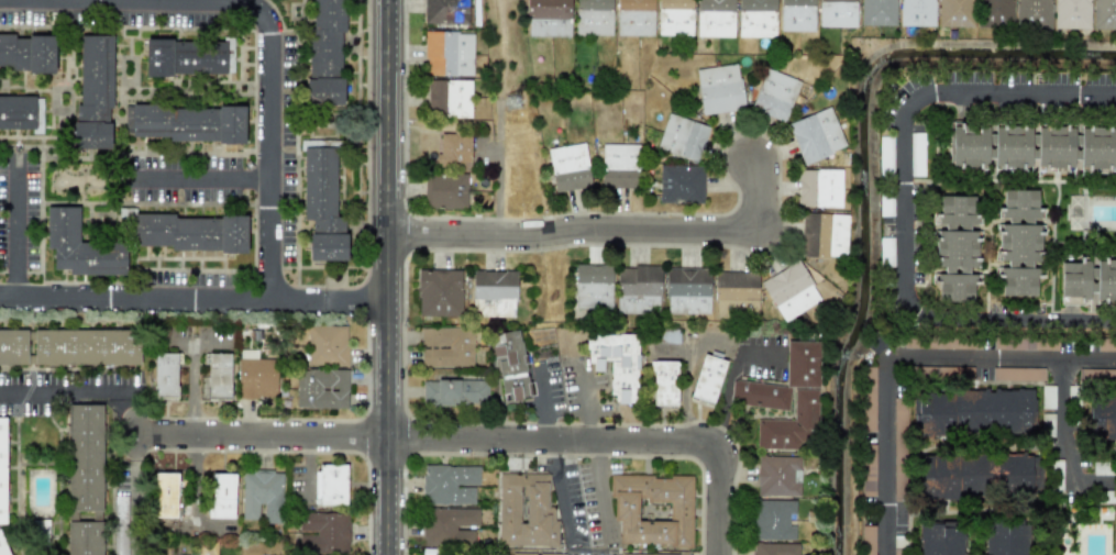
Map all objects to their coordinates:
building: (445, 12)
building: (877, 12)
building: (917, 12)
building: (995, 12)
building: (837, 13)
building: (954, 13)
building: (1032, 14)
building: (1071, 14)
building: (1104, 14)
building: (797, 15)
building: (593, 16)
building: (548, 18)
building: (634, 18)
building: (675, 18)
building: (715, 18)
building: (756, 18)
building: (27, 53)
building: (325, 54)
building: (449, 54)
building: (188, 57)
building: (719, 88)
building: (93, 92)
building: (774, 95)
building: (449, 97)
power tower: (506, 102)
road: (267, 107)
building: (21, 113)
building: (189, 123)
building: (816, 135)
building: (682, 136)
building: (1032, 147)
building: (454, 151)
building: (916, 154)
building: (885, 156)
building: (619, 166)
building: (568, 167)
road: (200, 179)
building: (679, 182)
building: (819, 188)
building: (445, 191)
building: (322, 201)
road: (902, 206)
building: (885, 209)
road: (16, 225)
building: (190, 232)
road: (607, 232)
building: (824, 234)
building: (1018, 242)
building: (79, 246)
building: (955, 247)
road: (386, 277)
building: (1087, 281)
building: (593, 286)
building: (638, 289)
building: (687, 290)
building: (789, 290)
building: (439, 292)
building: (491, 292)
building: (736, 293)
road: (134, 297)
road: (354, 299)
road: (296, 300)
building: (1025, 344)
building: (1106, 344)
building: (327, 345)
building: (84, 346)
building: (446, 346)
building: (875, 346)
building: (13, 347)
road: (900, 356)
building: (802, 362)
building: (616, 364)
building: (511, 366)
building: (924, 370)
building: (965, 371)
building: (1017, 374)
building: (165, 375)
building: (255, 375)
building: (1096, 375)
building: (218, 376)
building: (707, 378)
building: (664, 382)
road: (731, 384)
building: (320, 388)
road: (80, 392)
road: (197, 392)
building: (454, 392)
building: (1047, 397)
building: (869, 399)
road: (542, 403)
road: (585, 407)
building: (973, 412)
building: (1102, 414)
road: (1062, 417)
building: (1047, 423)
road: (259, 437)
road: (606, 442)
road: (133, 445)
building: (898, 449)
building: (85, 457)
building: (869, 470)
building: (778, 475)
building: (974, 476)
building: (450, 484)
building: (330, 485)
building: (2, 487)
road: (601, 489)
road: (560, 491)
building: (165, 495)
building: (221, 496)
building: (261, 496)
road: (133, 507)
building: (652, 509)
building: (526, 511)
building: (772, 519)
building: (447, 526)
building: (324, 532)
building: (85, 537)
building: (940, 539)
building: (1006, 539)
building: (868, 540)
building: (774, 548)
building: (537, 552)
building: (670, 554)

